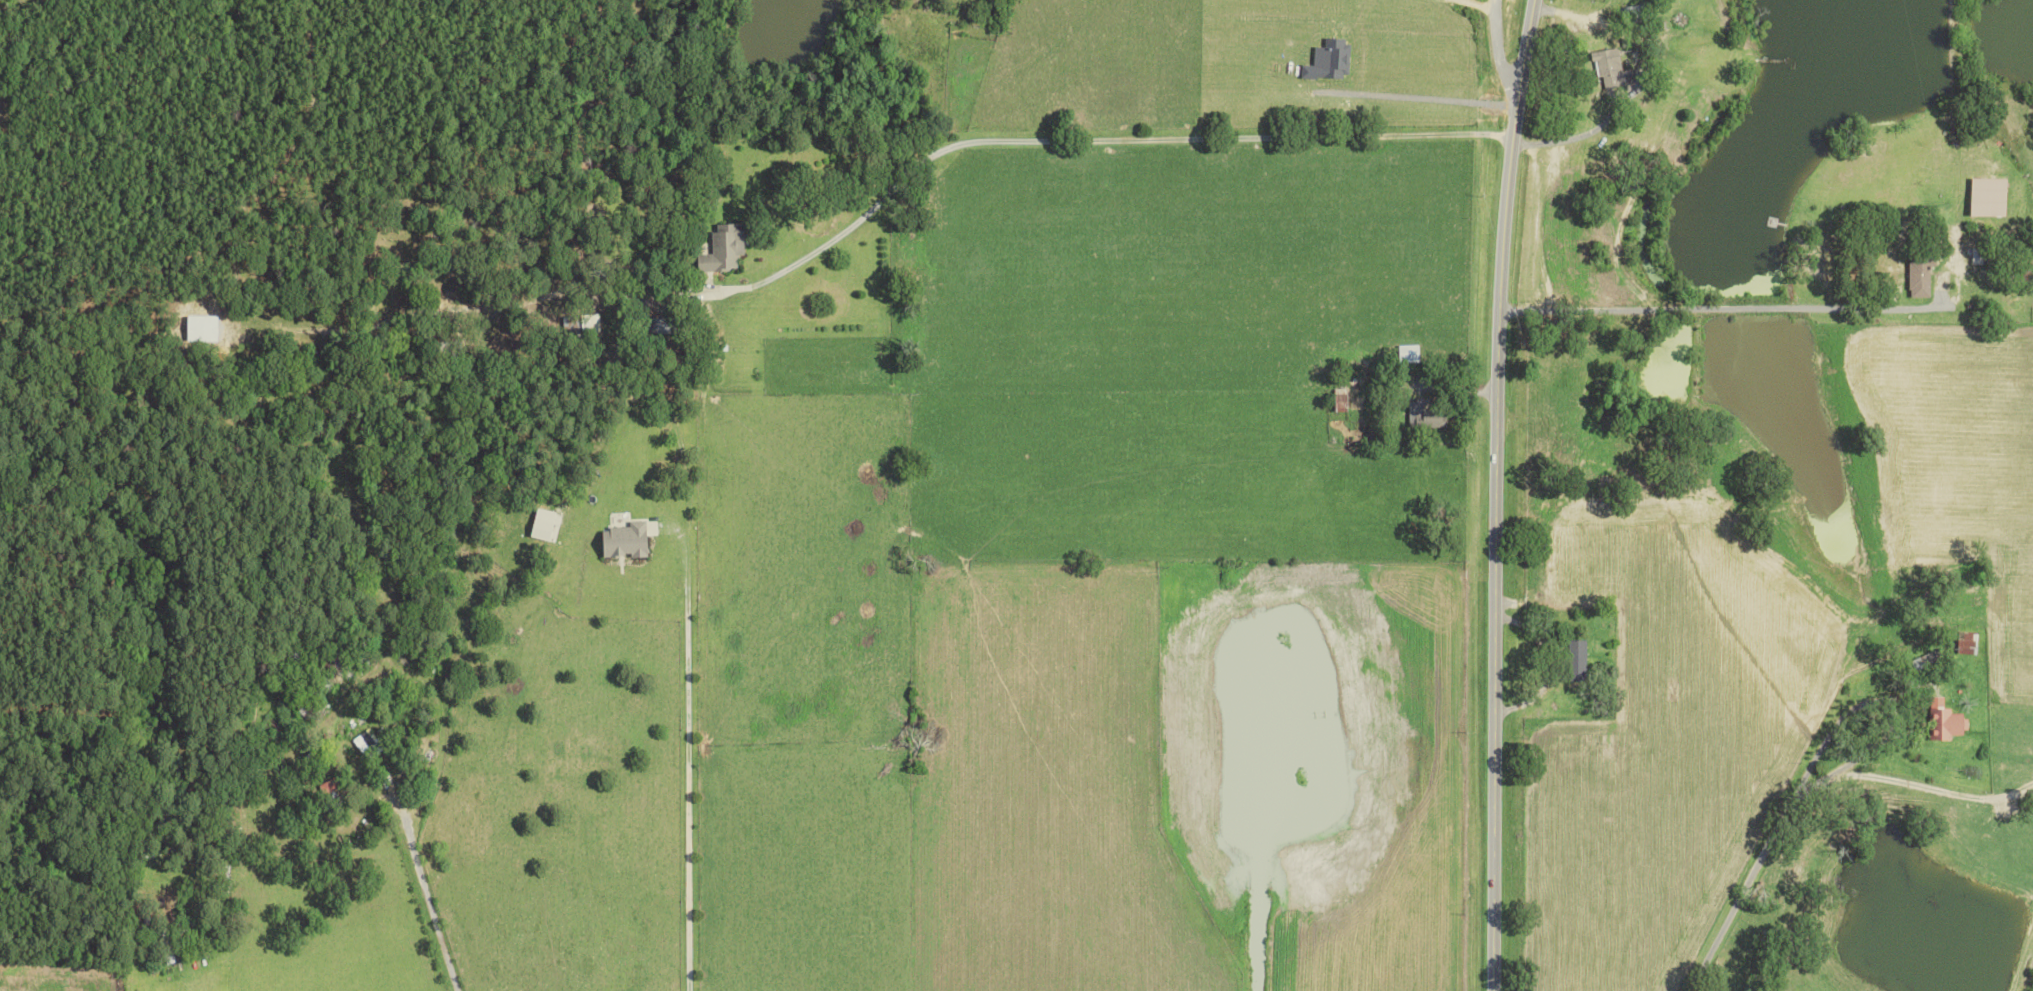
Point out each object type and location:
road: (1507, 49)
building: (1613, 68)
road: (1574, 136)
road: (1094, 139)
building: (1991, 196)
building: (726, 248)
building: (1979, 255)
building: (1921, 278)
road: (1695, 310)
building: (1409, 353)
road: (1453, 387)
building: (1342, 400)
building: (1426, 416)
road: (1497, 494)
building: (546, 525)
building: (627, 540)
building: (1968, 643)
building: (1579, 661)
building: (1948, 724)
road: (683, 745)
road: (1777, 830)
road: (427, 891)

